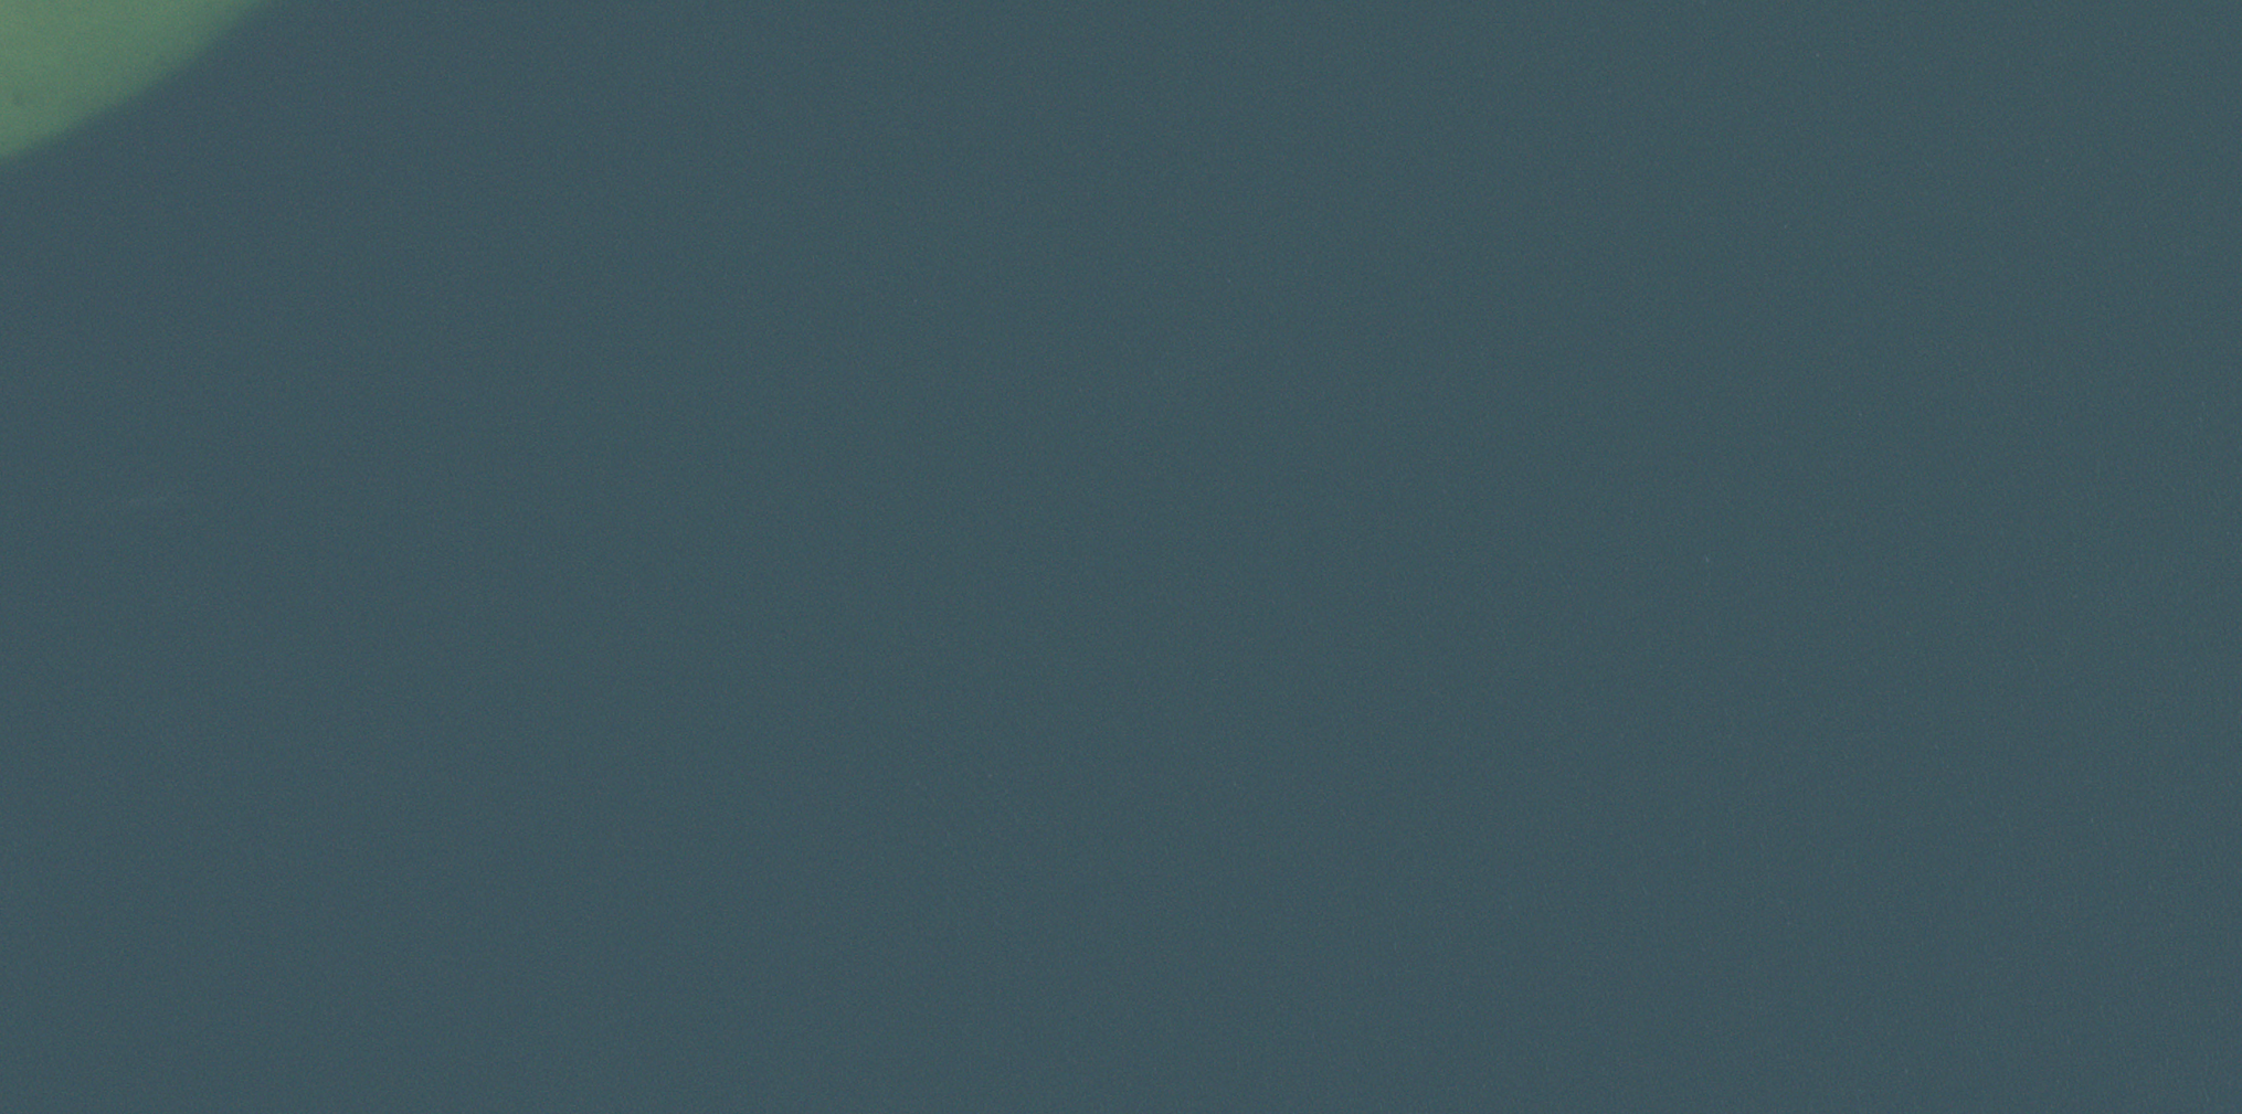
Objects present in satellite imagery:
river: (1416, 549)

